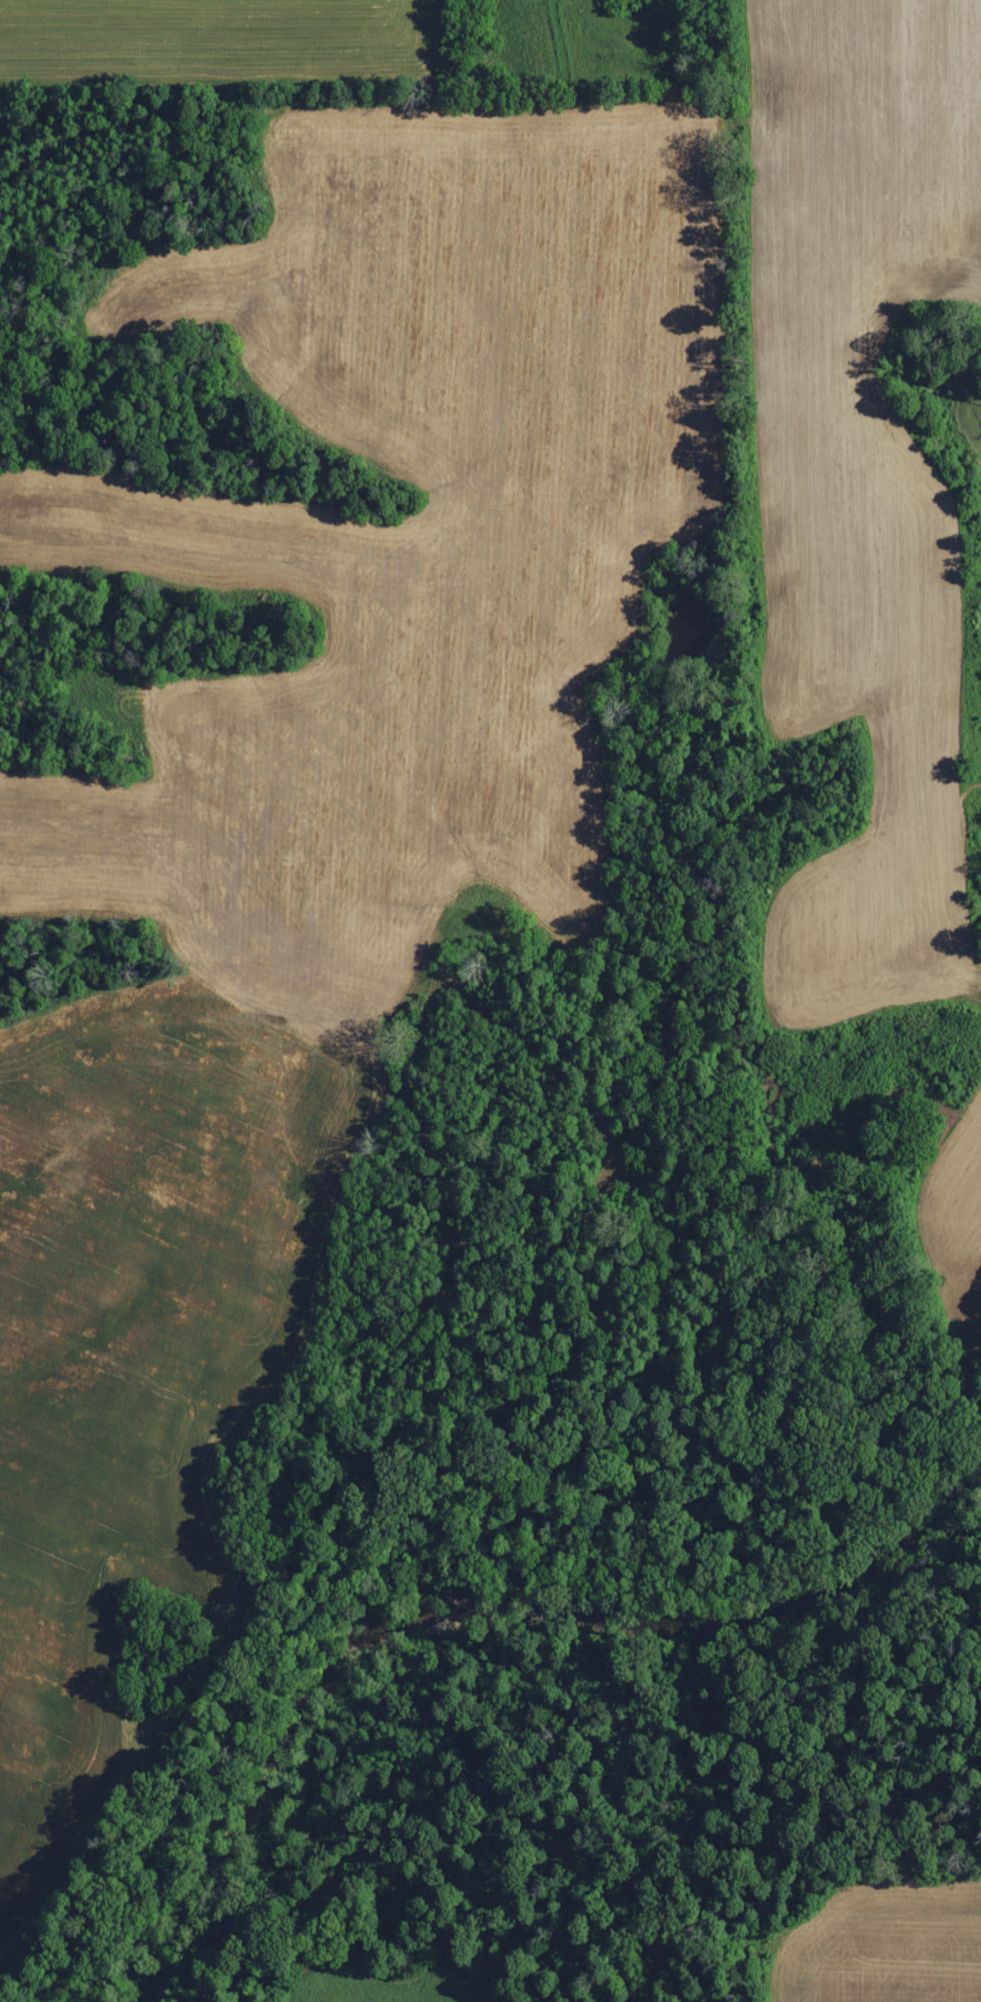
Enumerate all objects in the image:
river: (820, 1578)
river: (302, 1702)

